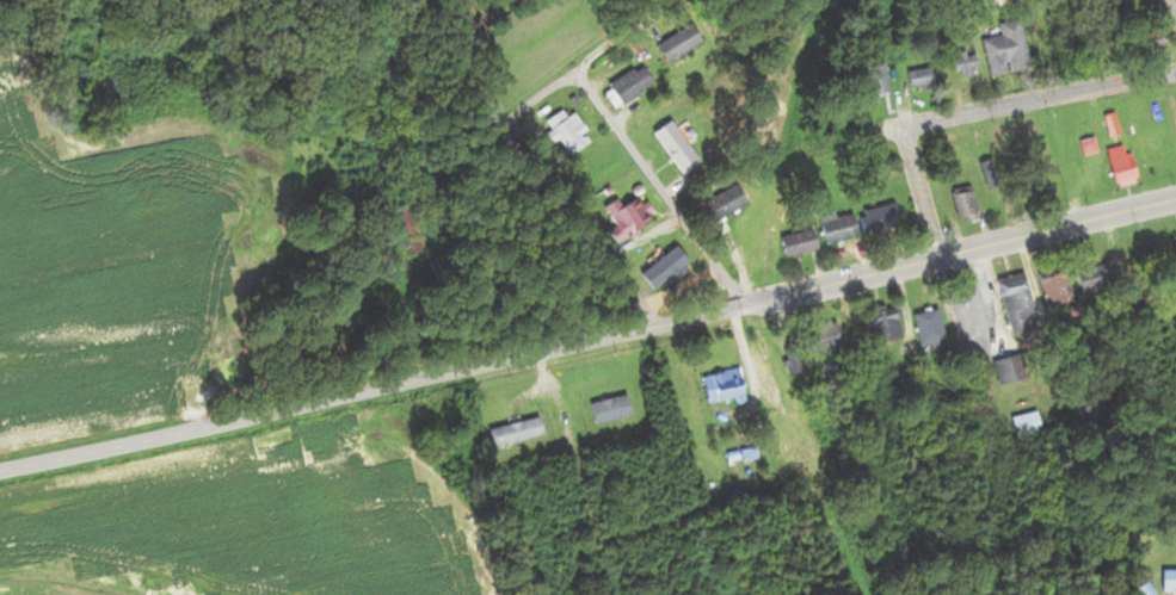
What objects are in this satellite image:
road: (1172, 5)
building: (1145, 42)
building: (675, 44)
building: (1003, 51)
building: (961, 66)
building: (916, 79)
road: (558, 82)
building: (869, 82)
building: (624, 87)
road: (1036, 100)
building: (1107, 125)
building: (561, 130)
building: (671, 147)
building: (1116, 166)
road: (657, 186)
road: (915, 191)
building: (959, 203)
building: (714, 205)
building: (623, 216)
building: (874, 218)
road: (578, 223)
building: (831, 228)
building: (793, 243)
building: (1171, 254)
building: (646, 255)
road: (897, 265)
building: (1091, 278)
building: (1051, 285)
building: (1010, 302)
building: (879, 323)
building: (924, 327)
building: (817, 336)
building: (1004, 370)
building: (719, 386)
road: (309, 403)
building: (605, 409)
building: (1021, 424)
building: (510, 433)
building: (1166, 582)

